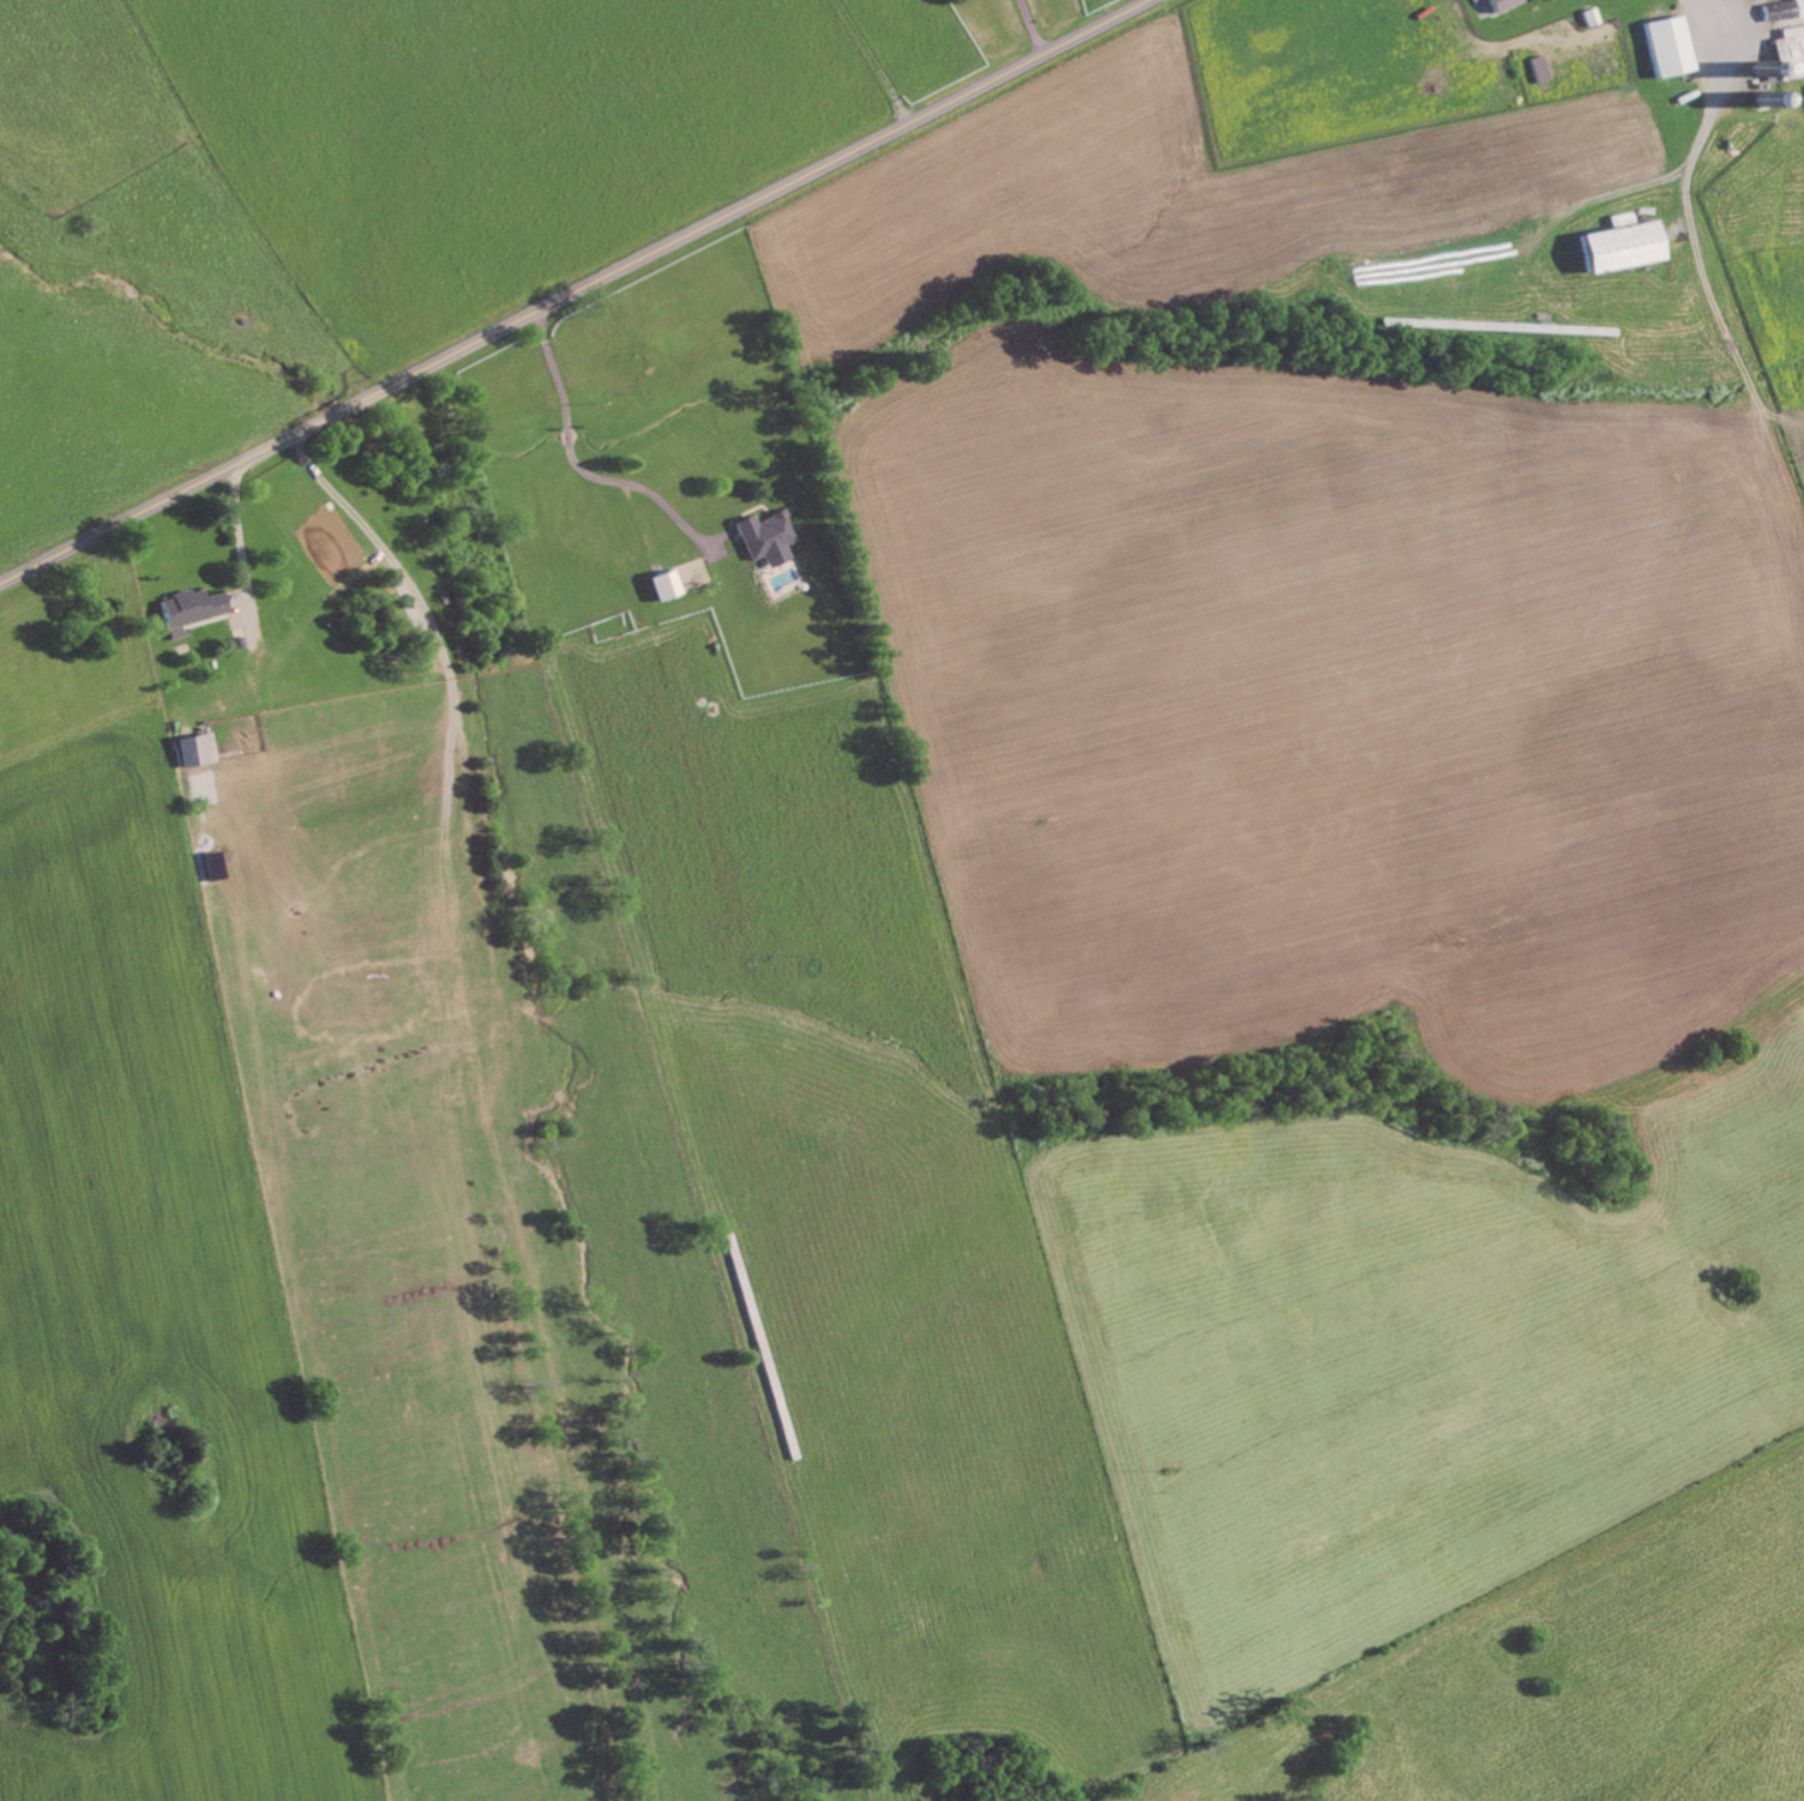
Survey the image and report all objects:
building: (1503, 5)
building: (1784, 11)
building: (1670, 48)
building: (1790, 53)
building: (1540, 71)
road: (1710, 118)
building: (1622, 247)
road: (572, 290)
building: (768, 537)
building: (691, 574)
building: (663, 585)
building: (194, 749)

